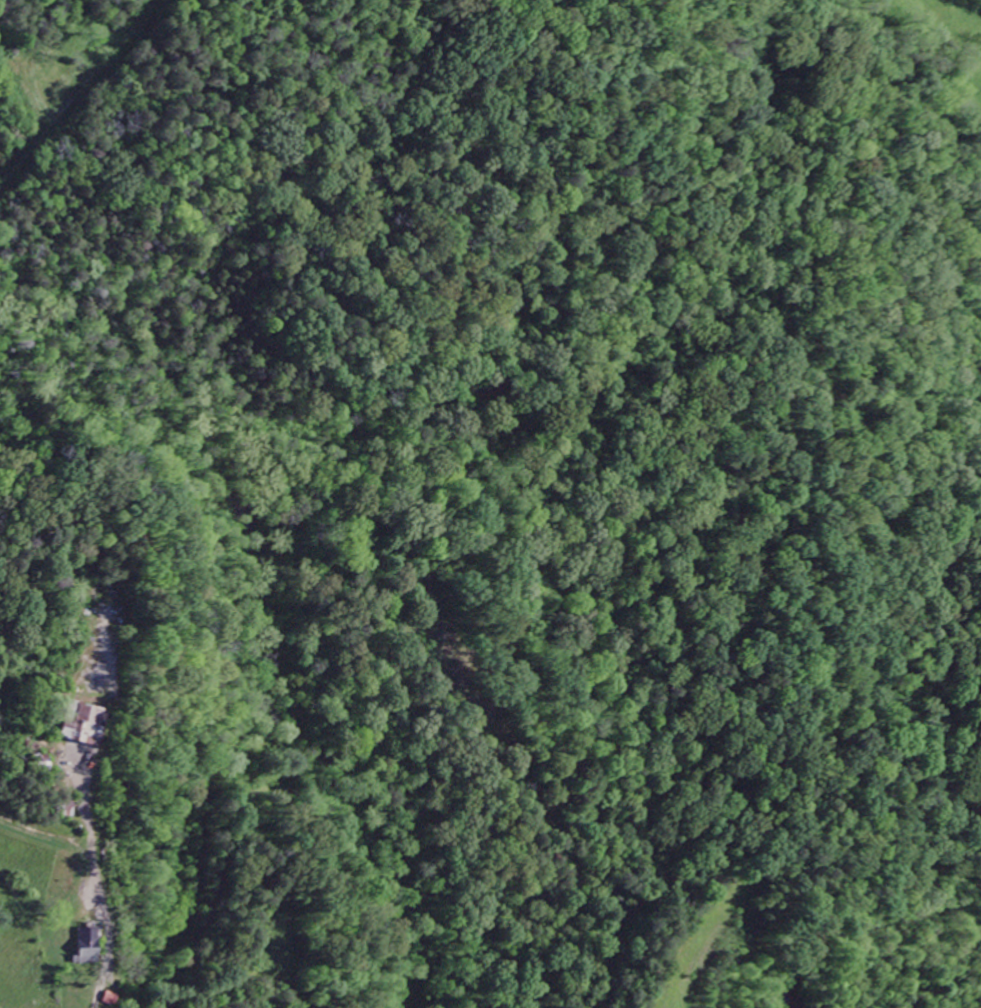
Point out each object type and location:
building: (86, 725)
road: (123, 903)
building: (89, 948)

